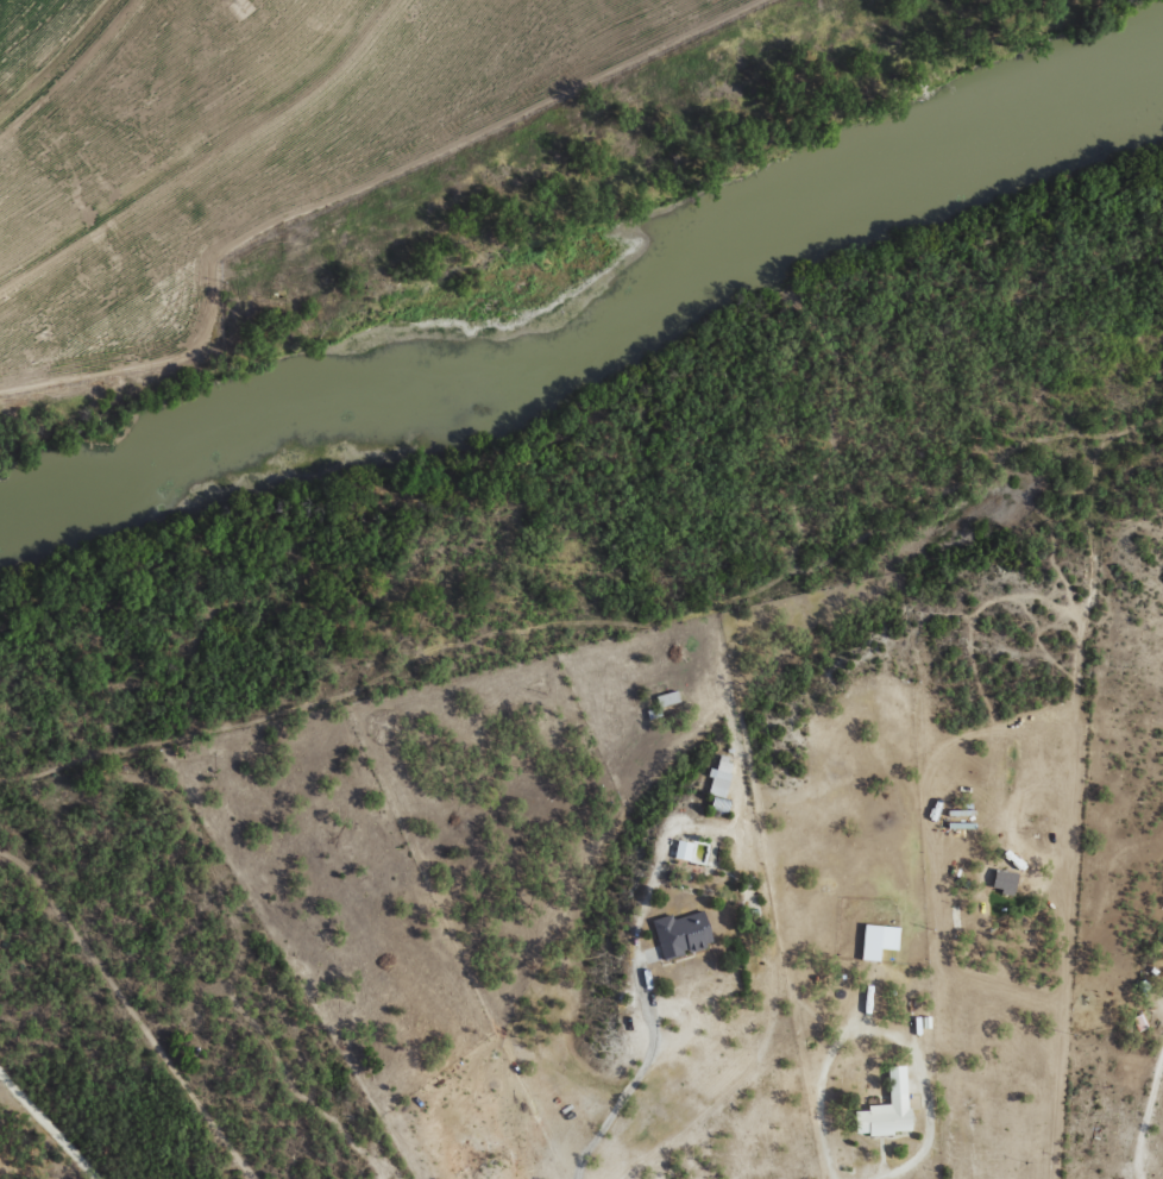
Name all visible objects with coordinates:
road: (442, 225)
river: (606, 344)
building: (668, 698)
building: (721, 777)
building: (684, 849)
building: (1005, 882)
building: (684, 934)
building: (879, 940)
building: (888, 1108)

